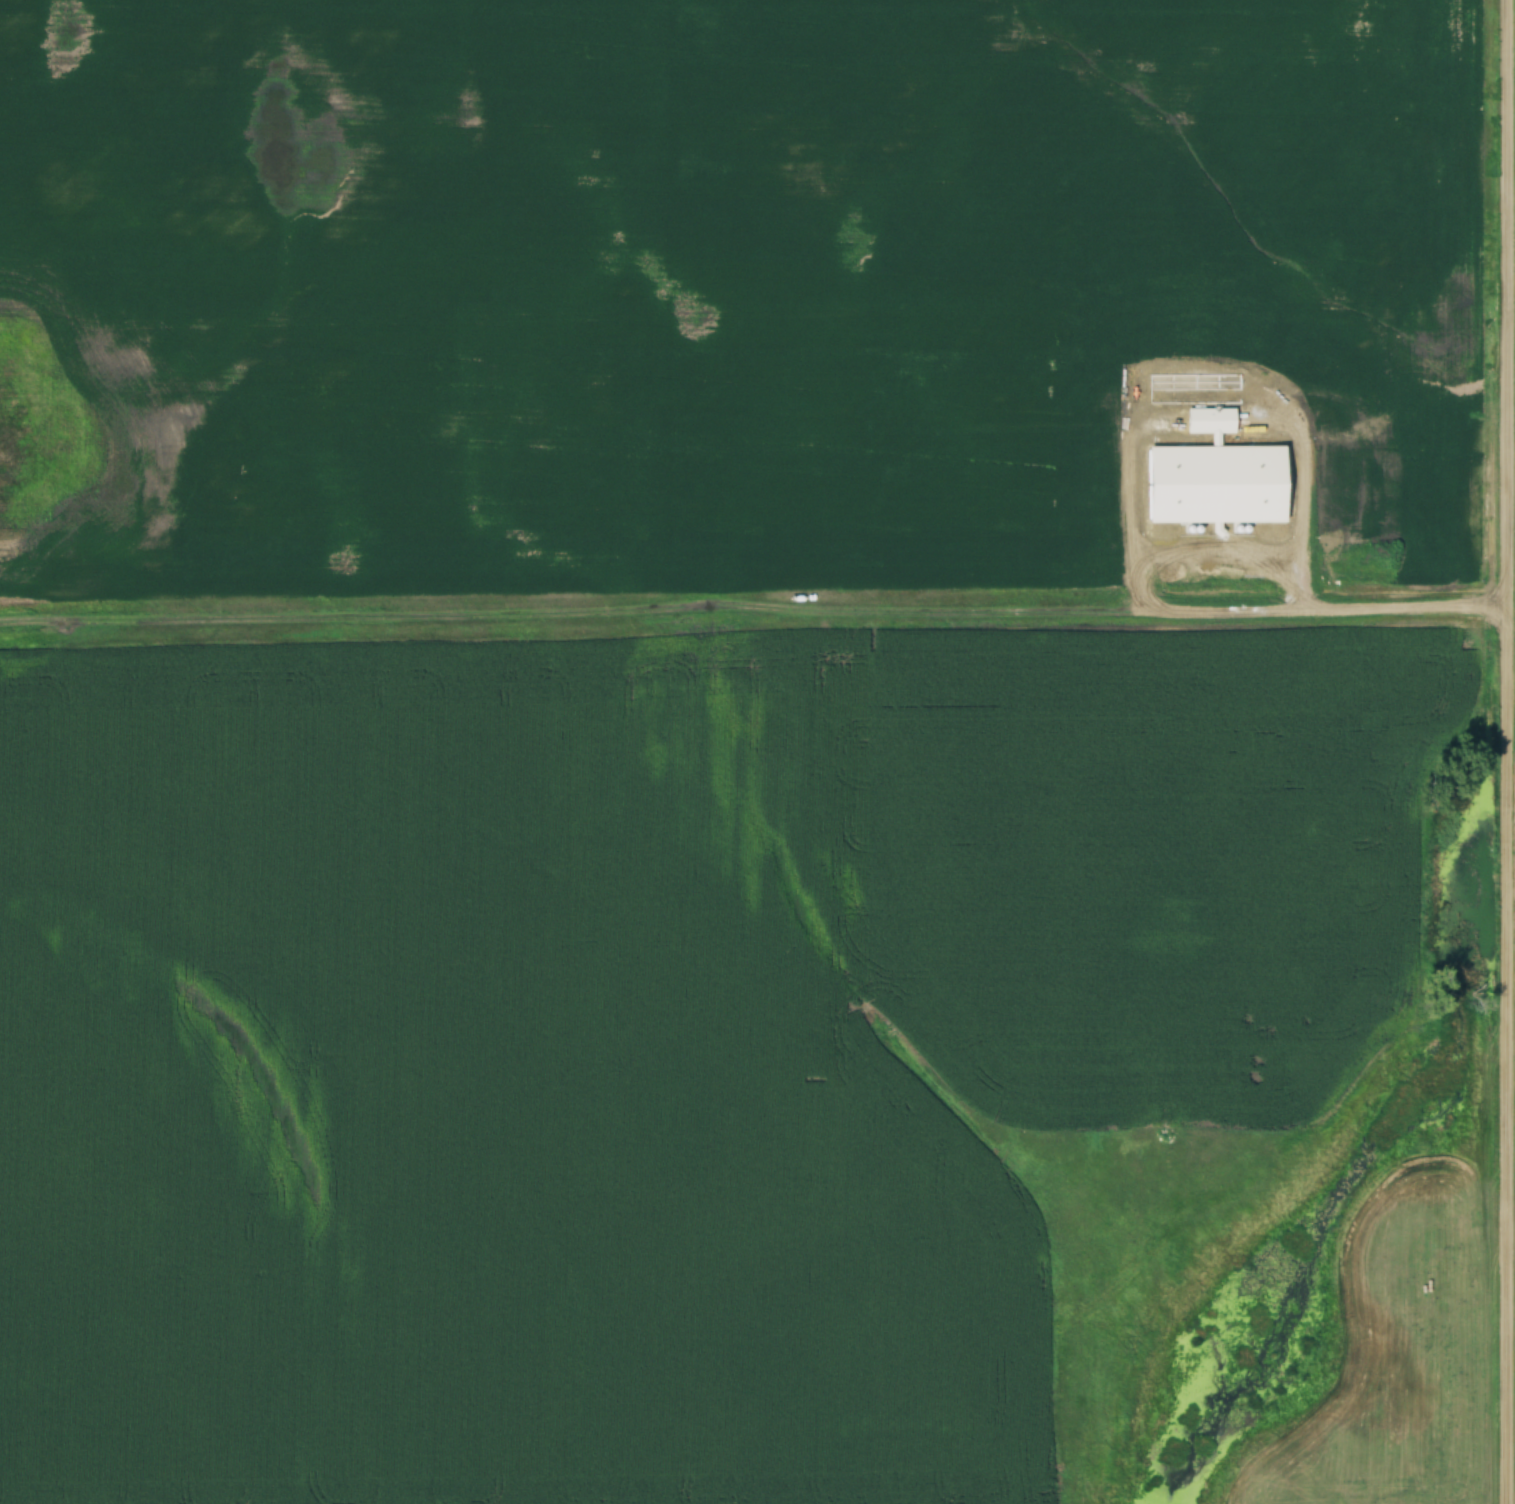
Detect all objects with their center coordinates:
road: (753, 617)
road: (1505, 751)

